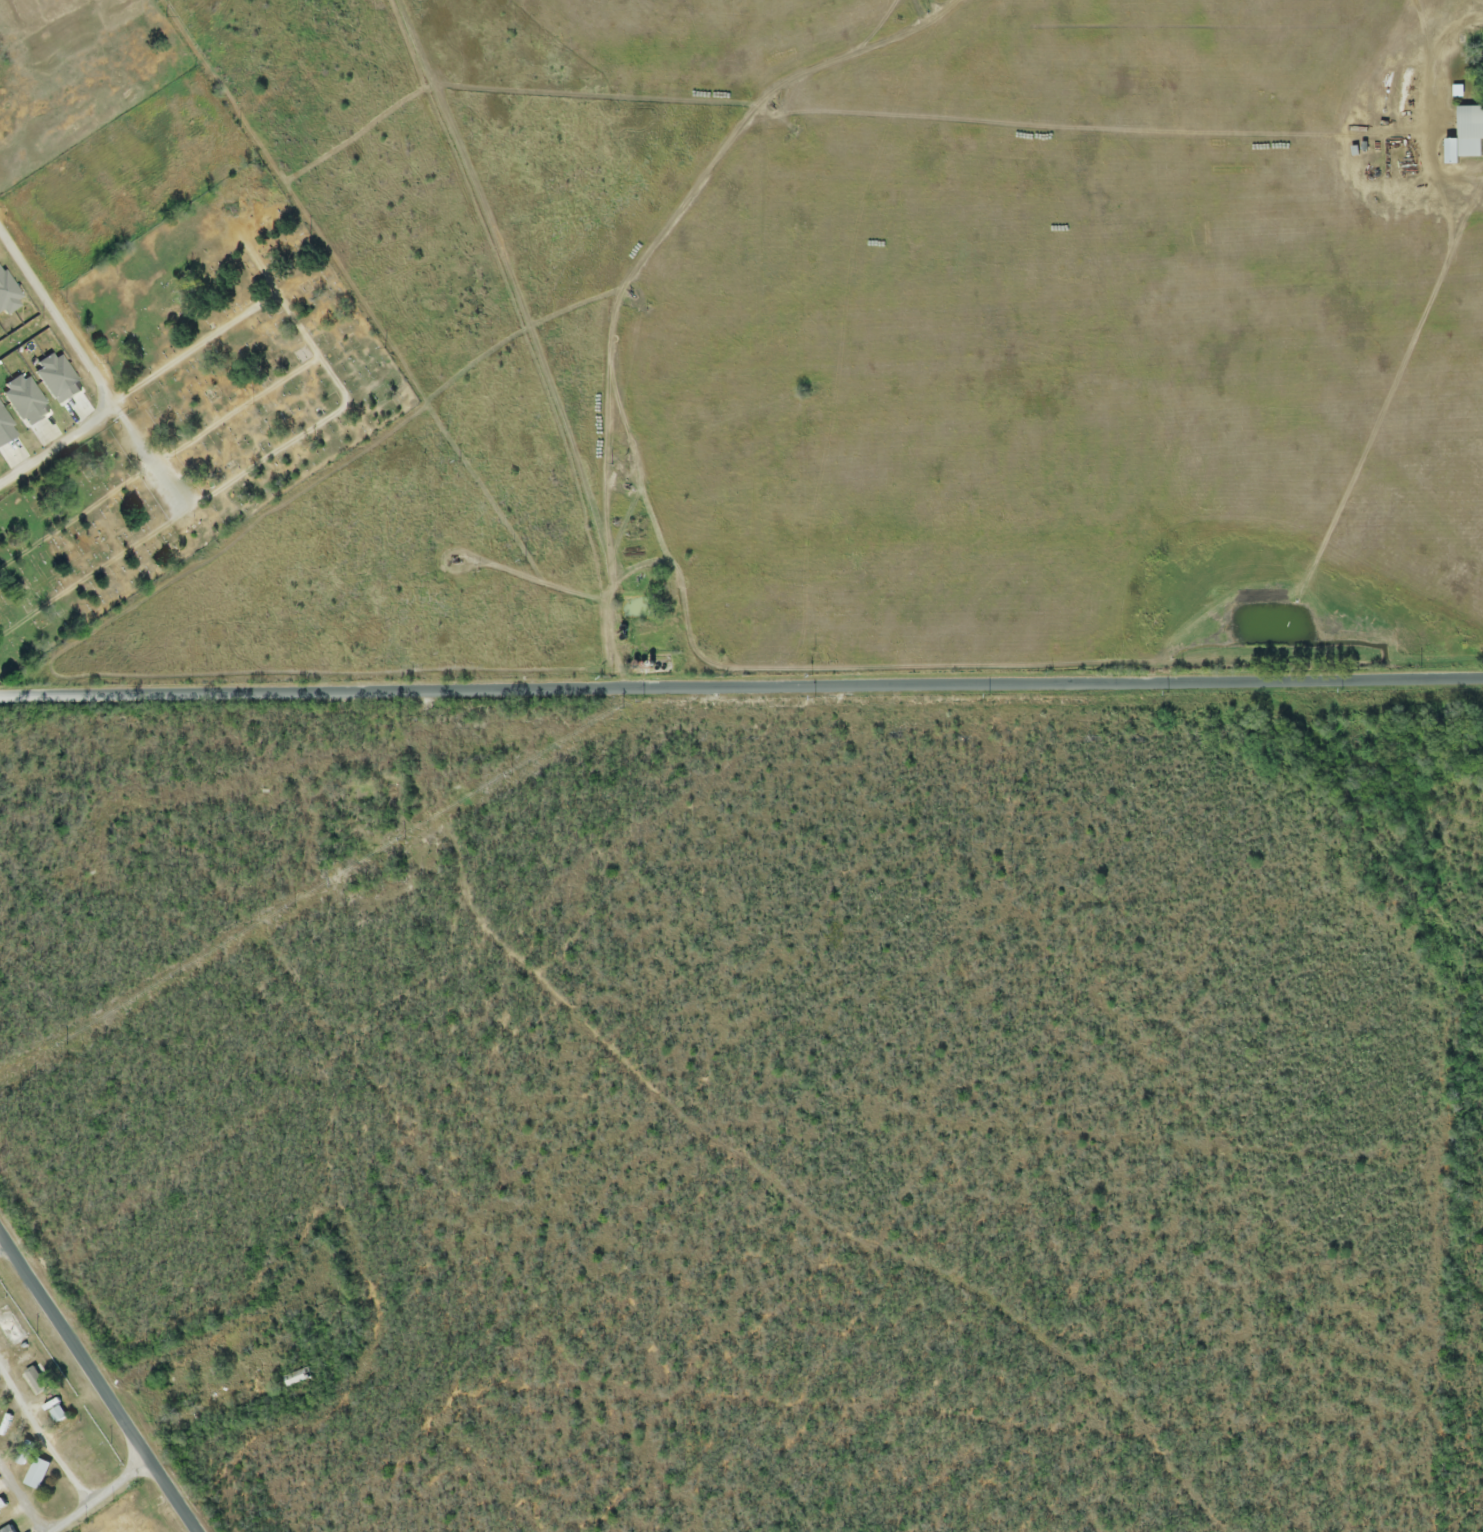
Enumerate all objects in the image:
building: (1469, 132)
road: (55, 323)
park: (179, 358)
road: (55, 443)
road: (740, 687)
road: (1, 1245)
building: (33, 1382)
road: (96, 1387)
building: (57, 1415)
road: (43, 1443)
building: (36, 1474)
road: (101, 1499)
road: (20, 1501)
building: (6, 1529)

